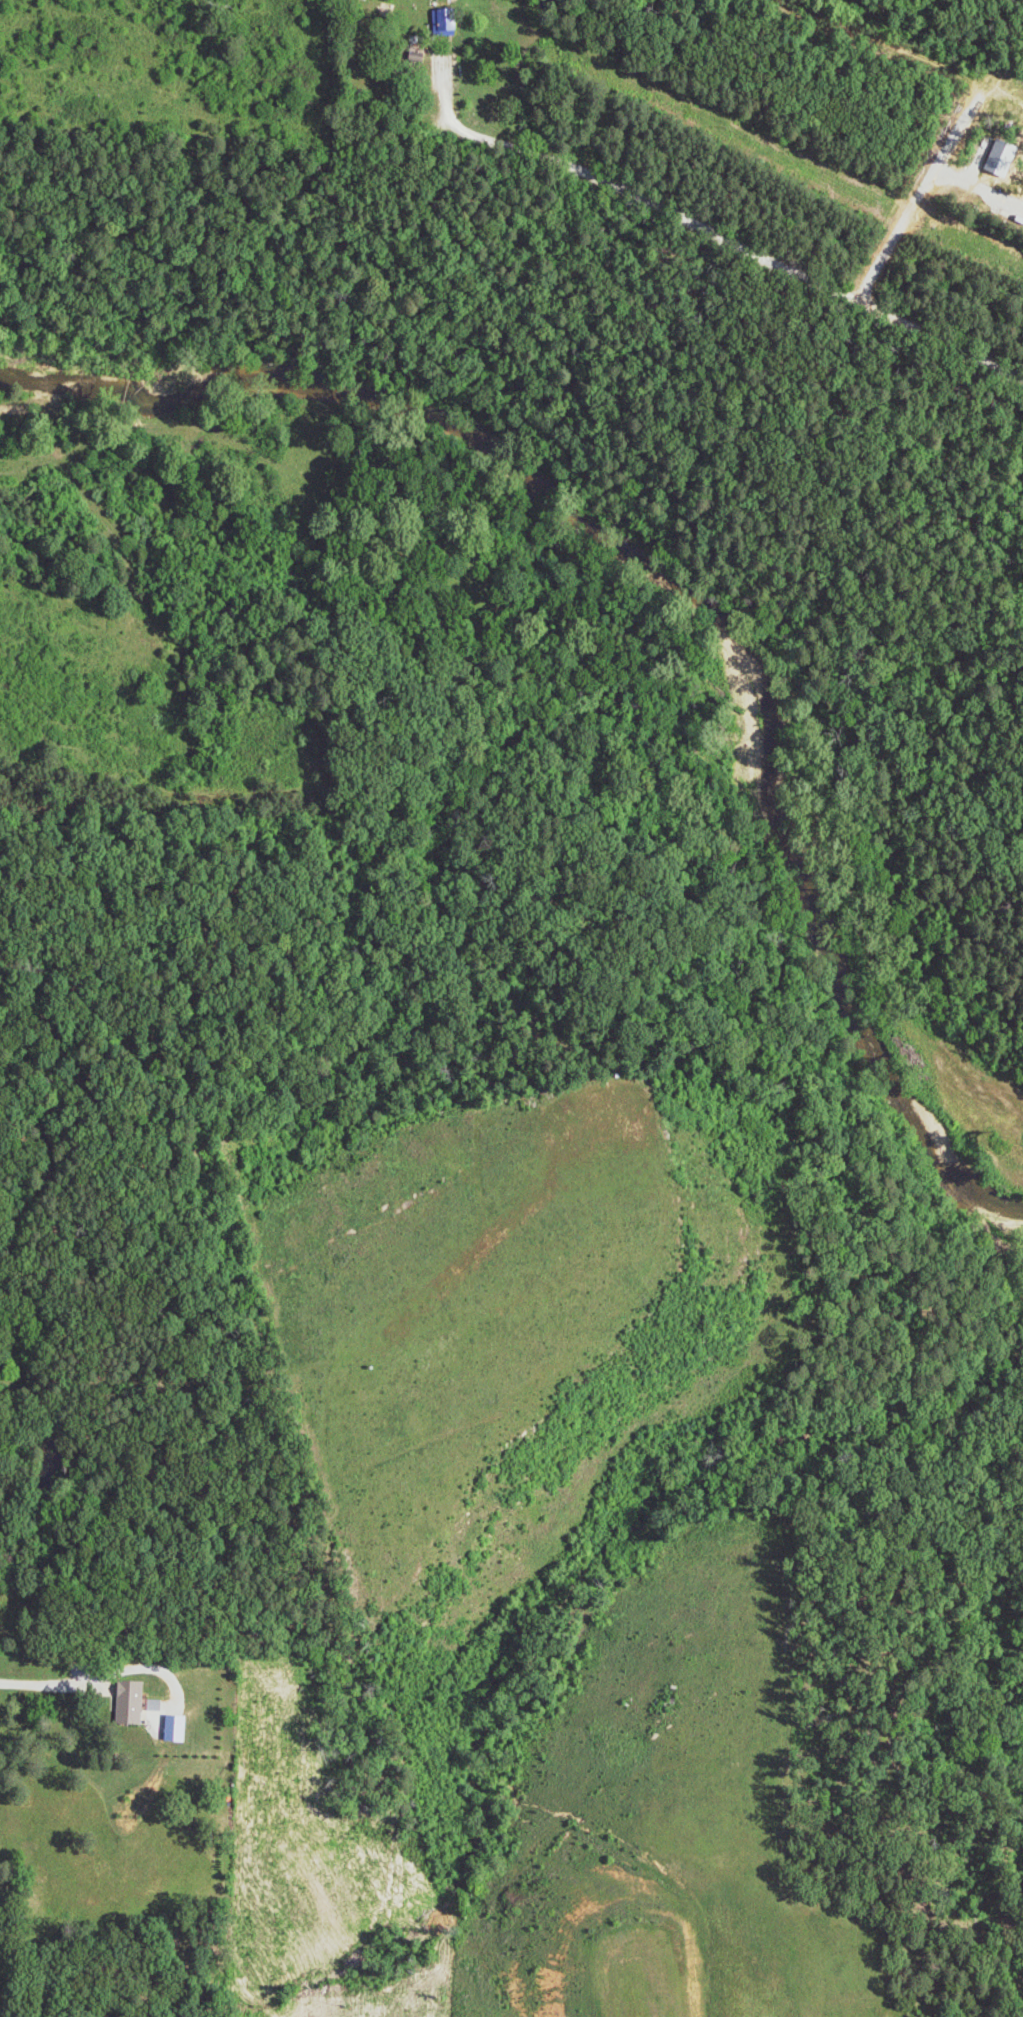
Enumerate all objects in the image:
building: (449, 19)
road: (699, 231)
building: (135, 1701)
building: (181, 1728)

